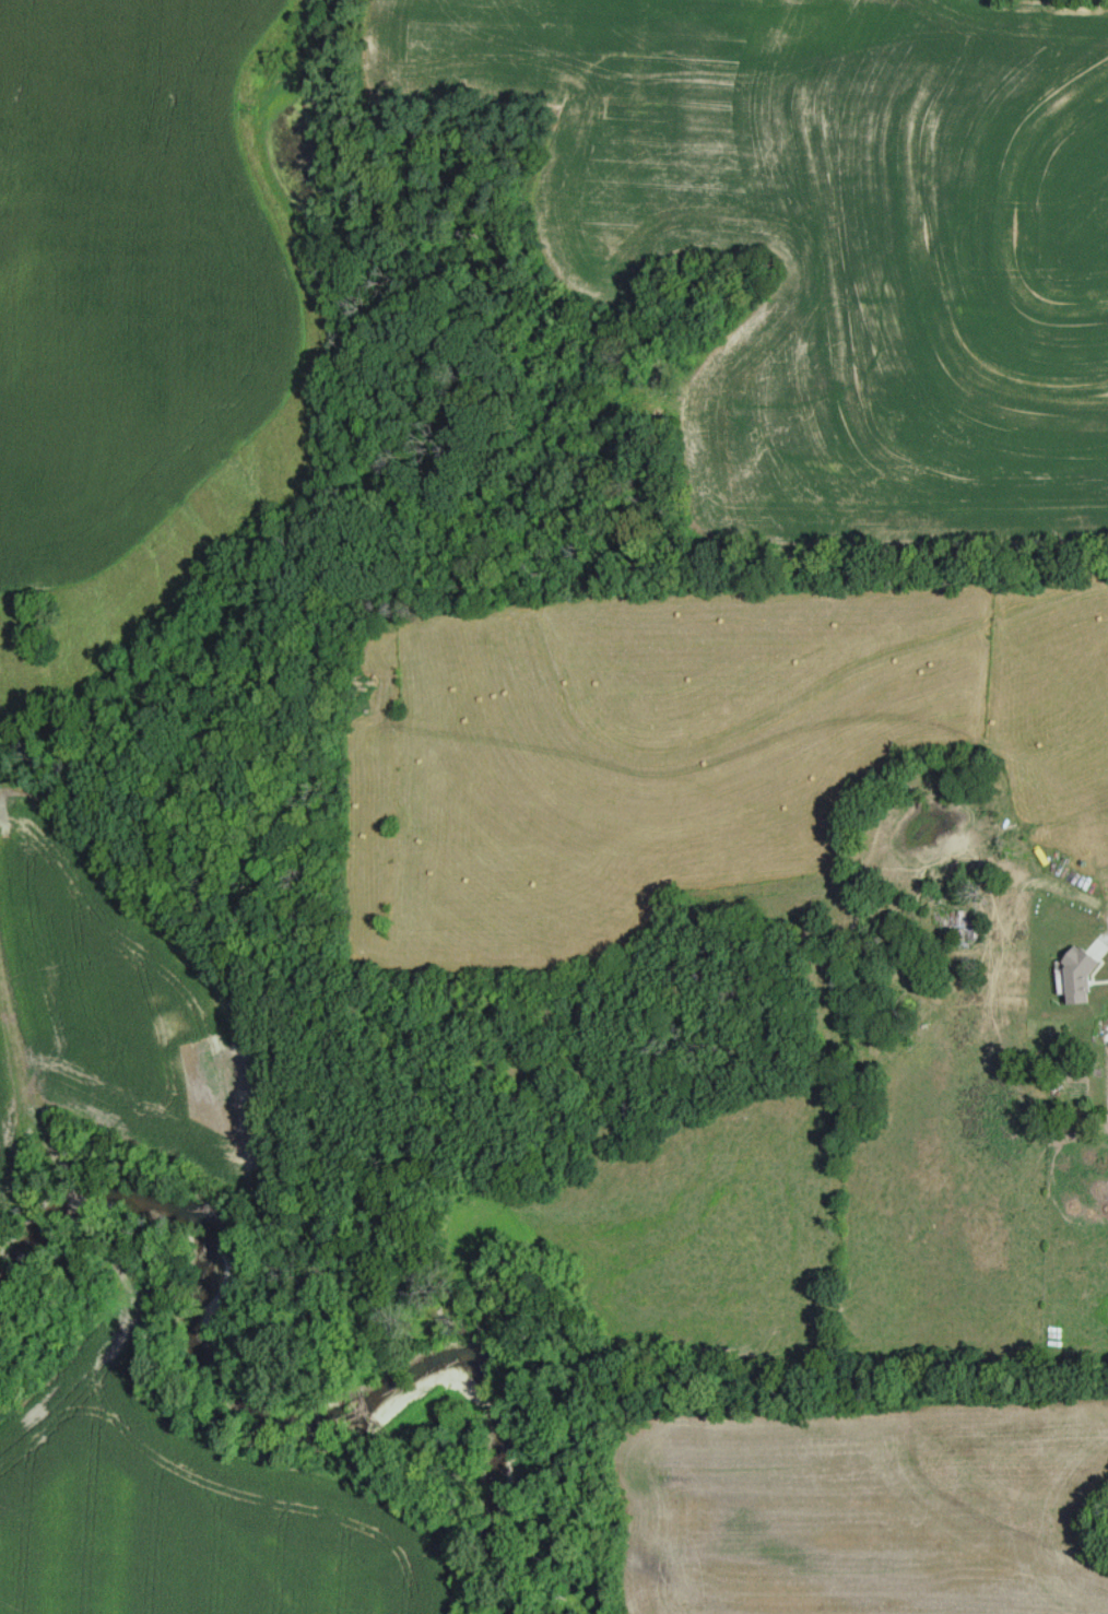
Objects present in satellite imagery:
building: (966, 927)
building: (1073, 991)
building: (1105, 1033)

